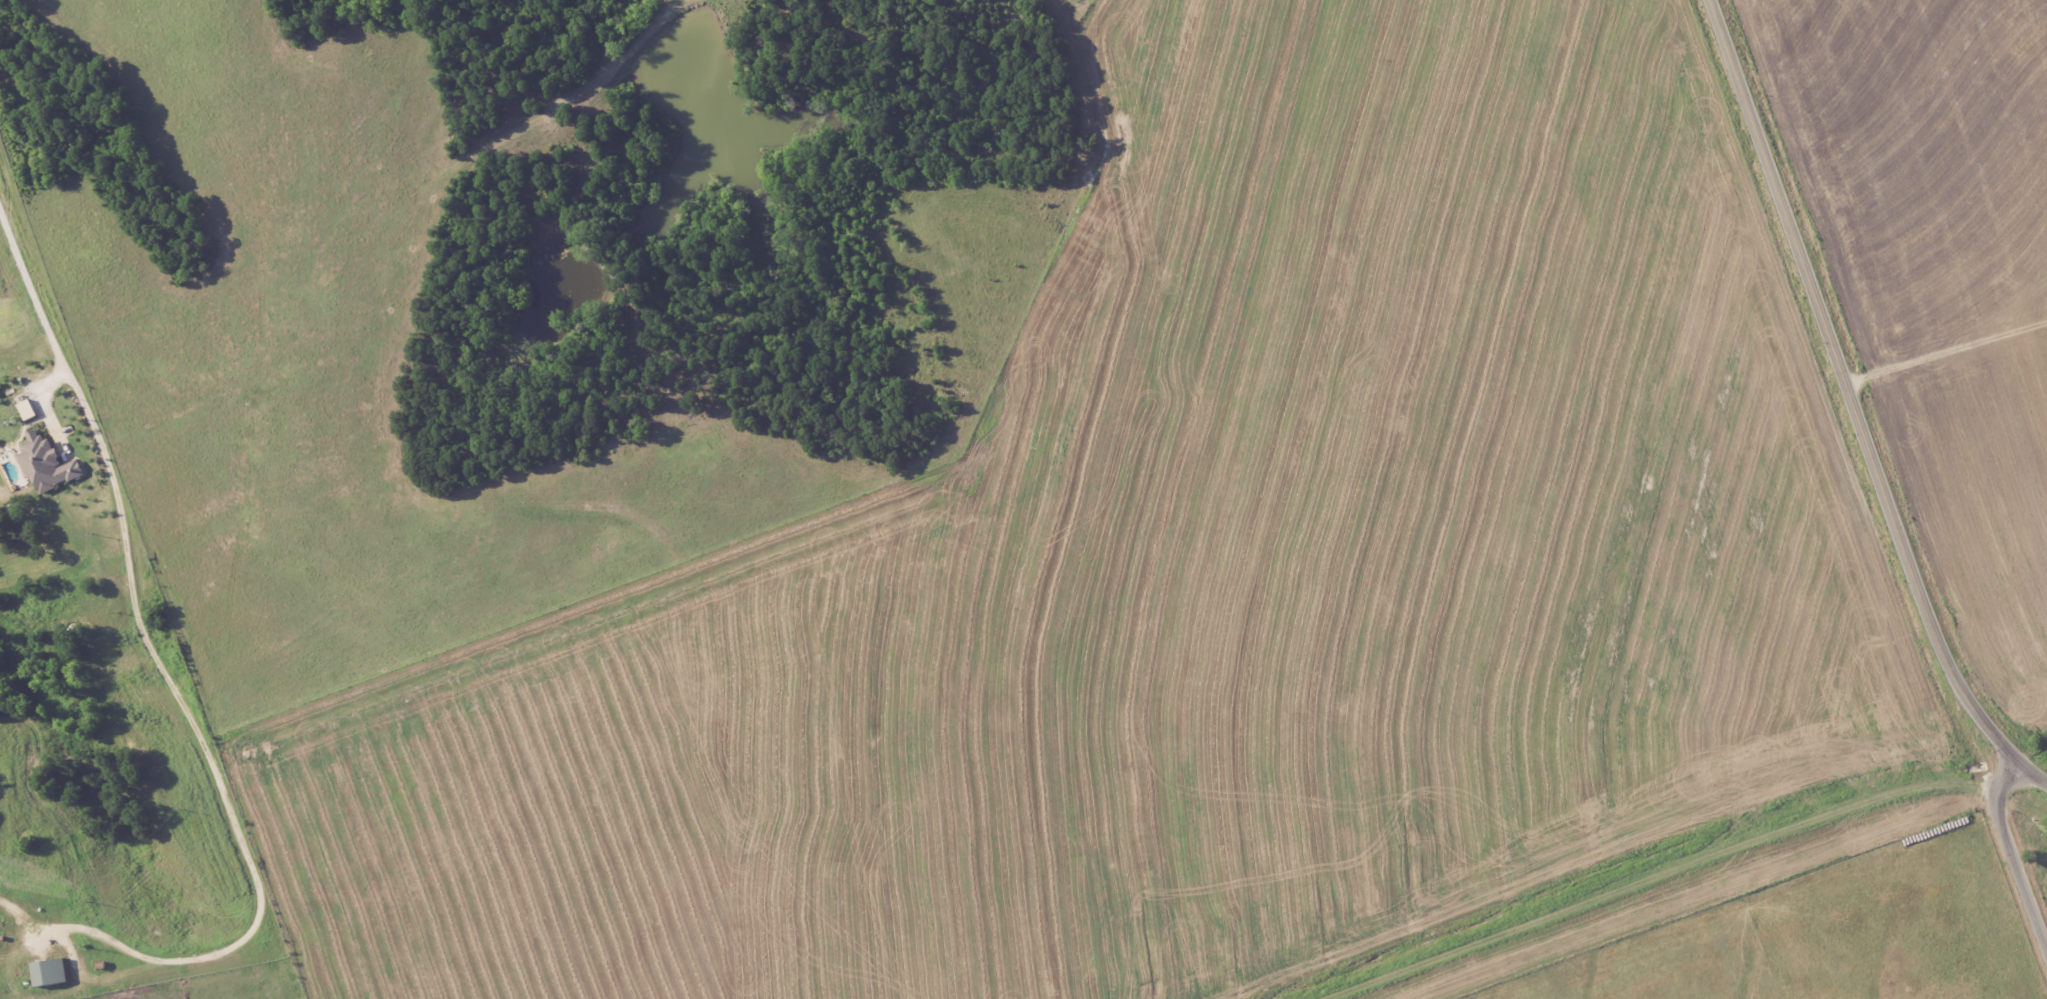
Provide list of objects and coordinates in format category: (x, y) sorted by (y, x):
road: (1853, 405)
building: (28, 410)
building: (49, 463)
road: (160, 651)
road: (1996, 808)
building: (53, 972)

